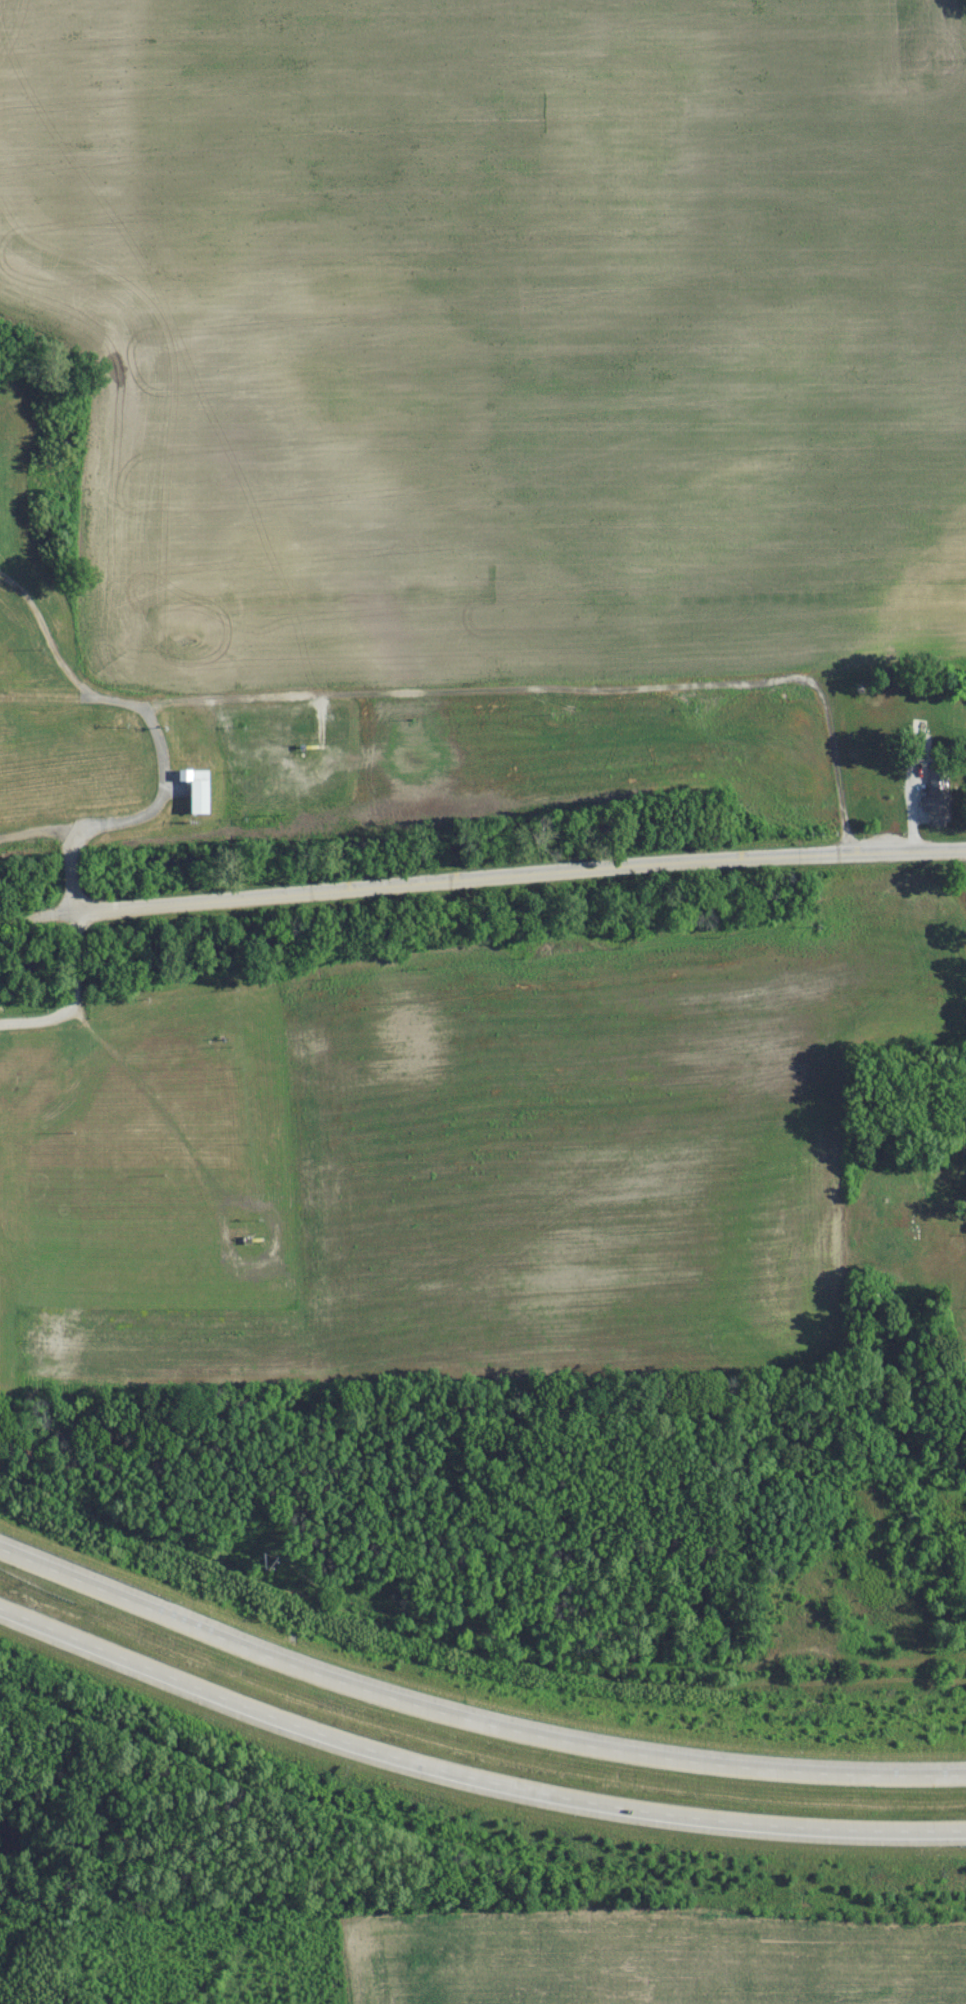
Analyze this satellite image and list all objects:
building: (183, 779)
building: (197, 802)
building: (935, 809)
road: (147, 815)
road: (39, 832)
road: (518, 876)
building: (914, 1225)
road: (470, 1722)
road: (470, 1781)

